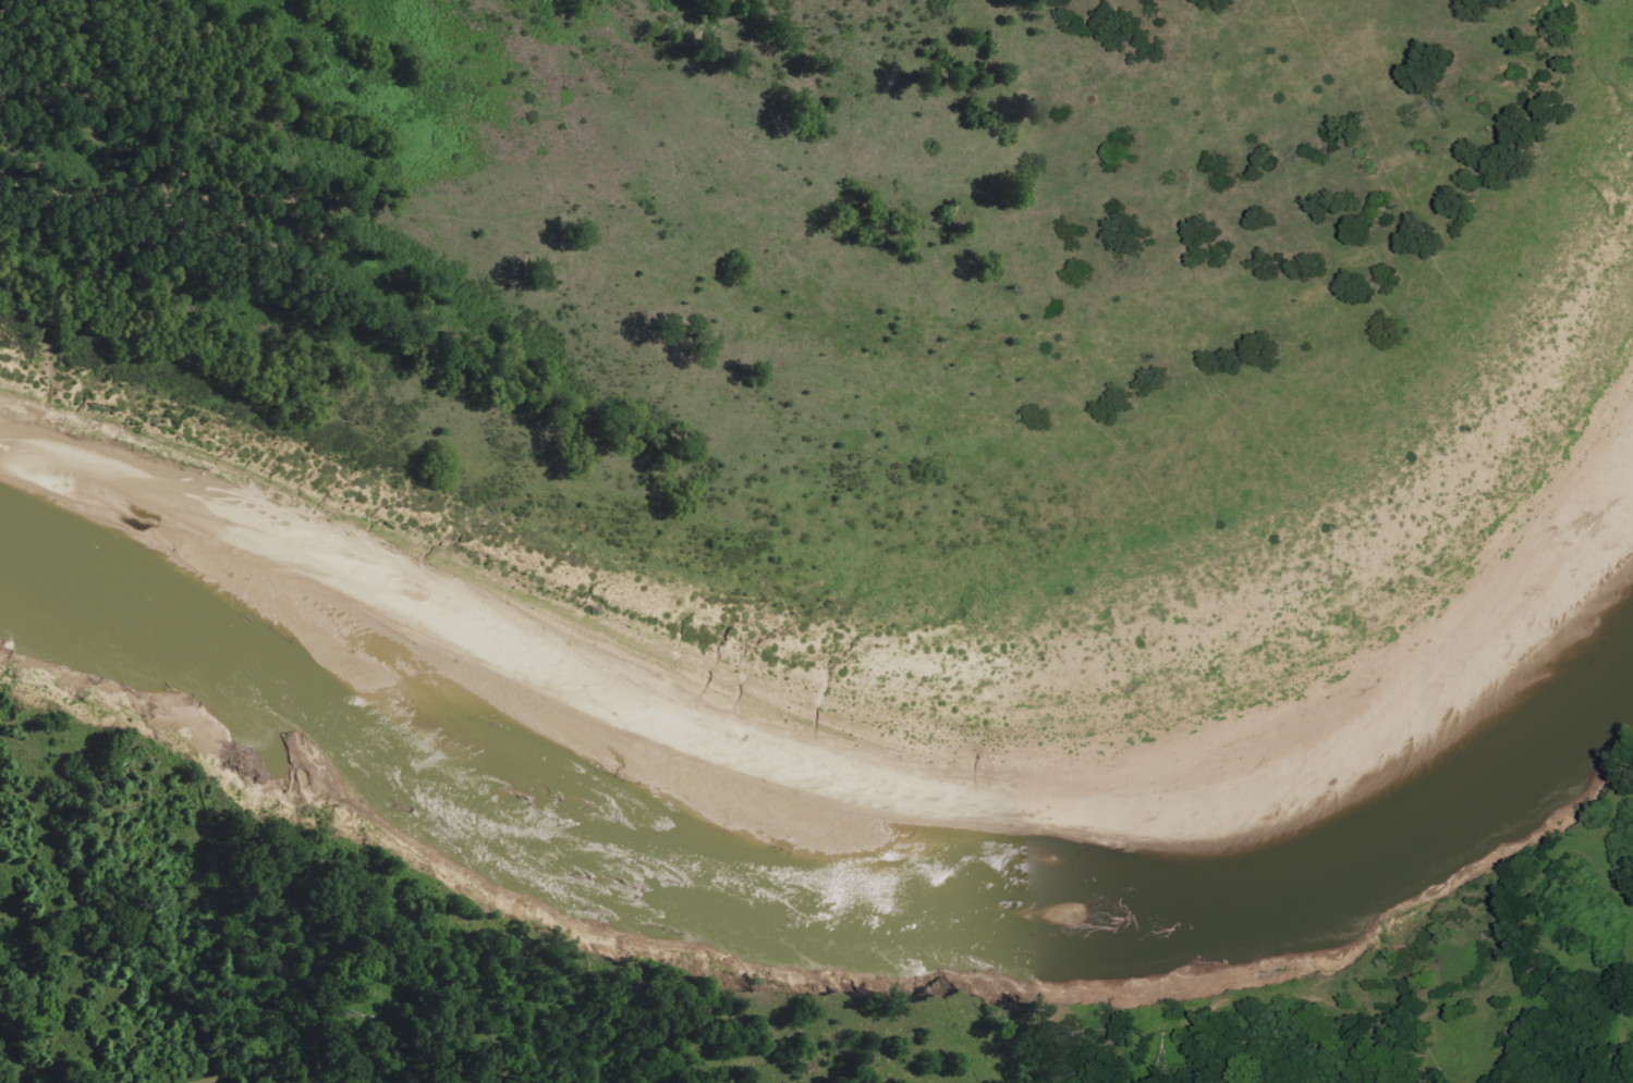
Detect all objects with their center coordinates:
river: (834, 665)

